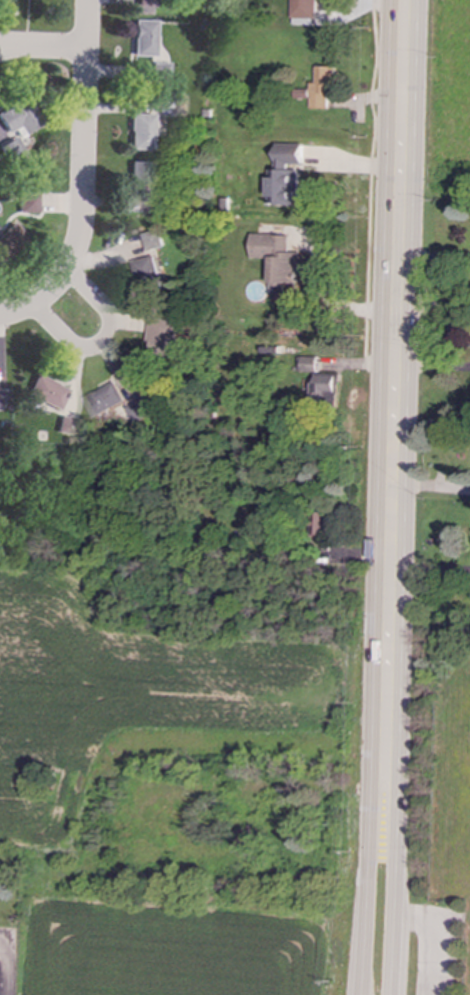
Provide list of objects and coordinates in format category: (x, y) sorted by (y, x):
building: (142, 3)
building: (304, 8)
building: (142, 38)
road: (42, 48)
building: (322, 87)
building: (17, 117)
building: (139, 132)
building: (290, 154)
road: (82, 178)
building: (138, 180)
road: (370, 183)
building: (284, 186)
building: (26, 203)
building: (162, 205)
building: (9, 240)
building: (155, 240)
building: (277, 258)
building: (149, 272)
road: (433, 302)
building: (169, 340)
road: (102, 343)
road: (395, 343)
building: (308, 364)
building: (327, 387)
building: (44, 392)
building: (107, 399)
building: (2, 401)
building: (141, 411)
building: (64, 426)
building: (321, 523)
road: (429, 568)
crop: (176, 797)
road: (368, 840)
road: (396, 840)
road: (436, 940)
road: (4, 971)

